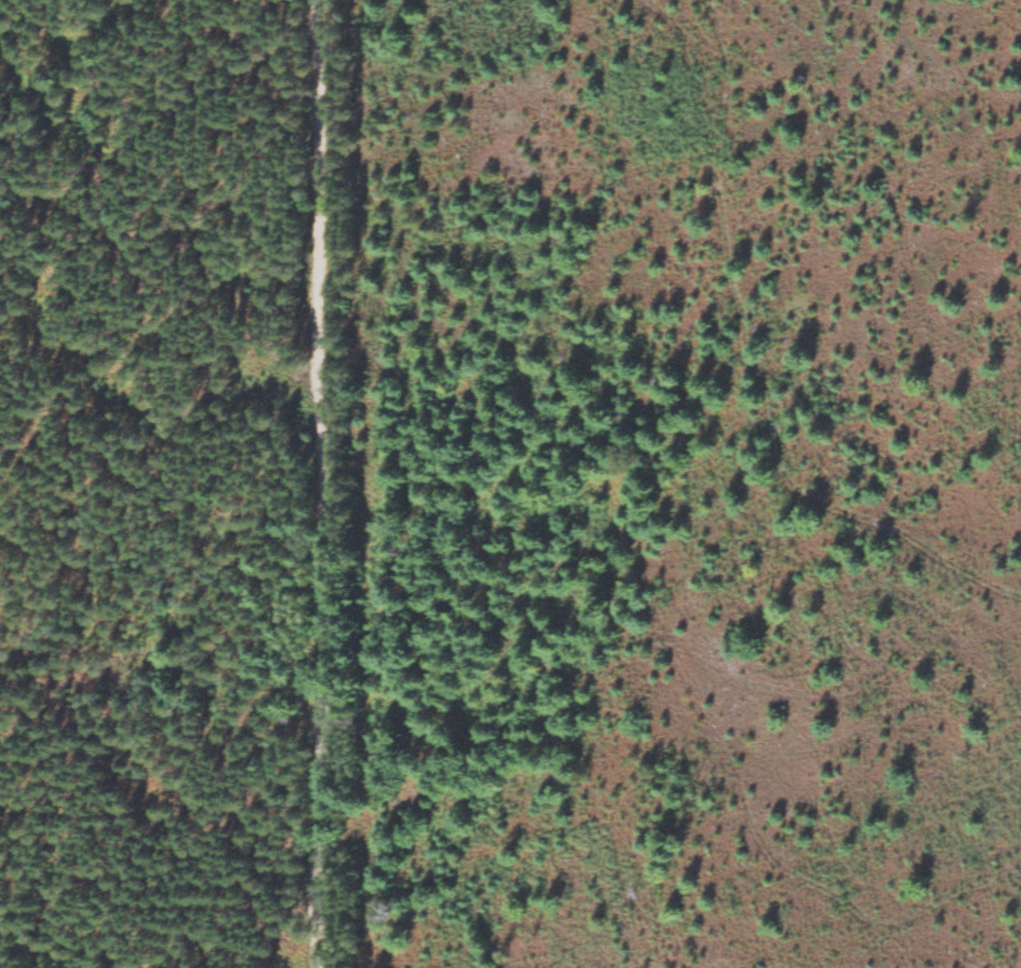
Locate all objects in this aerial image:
road: (332, 483)

